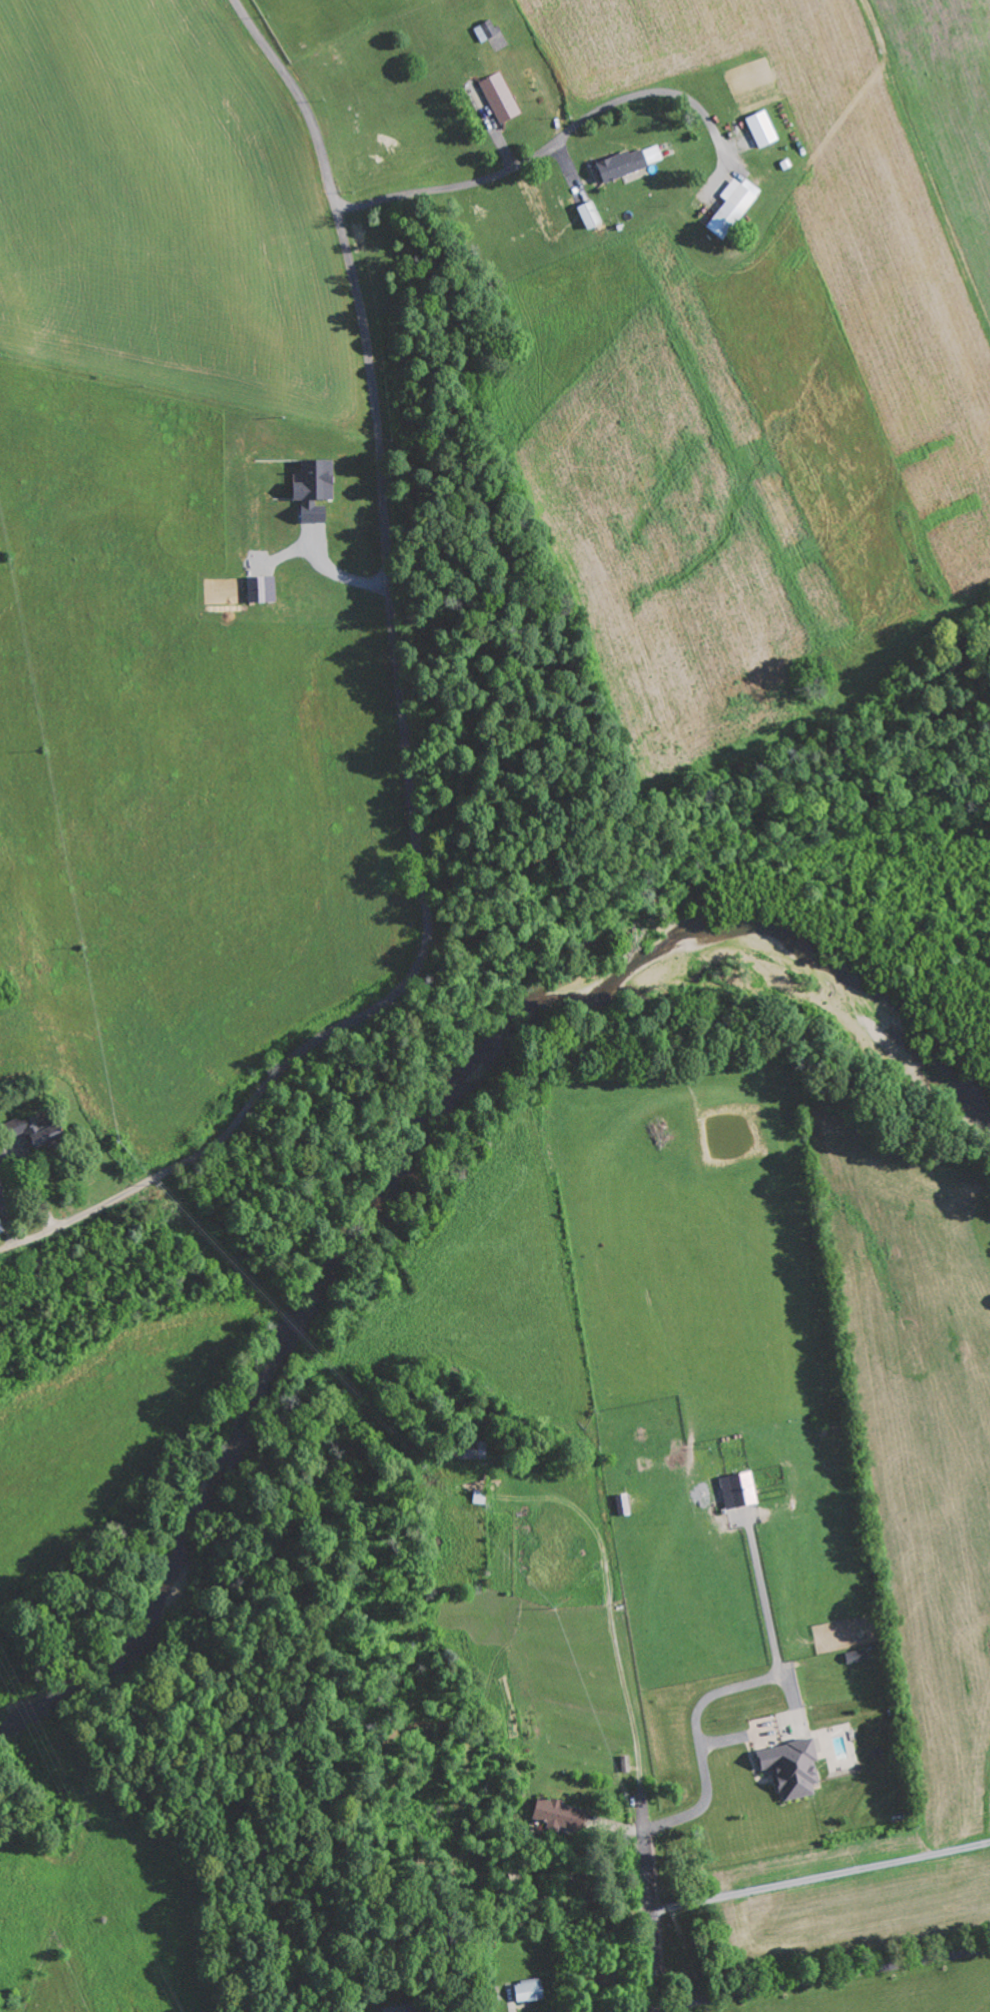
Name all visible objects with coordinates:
building: (488, 30)
building: (501, 97)
building: (763, 128)
road: (544, 148)
building: (631, 162)
building: (735, 207)
building: (316, 483)
building: (314, 519)
building: (263, 589)
road: (404, 725)
building: (41, 1131)
building: (474, 1450)
building: (740, 1490)
building: (481, 1497)
building: (624, 1504)
building: (859, 1656)
building: (767, 1733)
building: (794, 1768)
building: (562, 1815)
road: (655, 1917)
building: (530, 1991)
building: (406, 2008)

